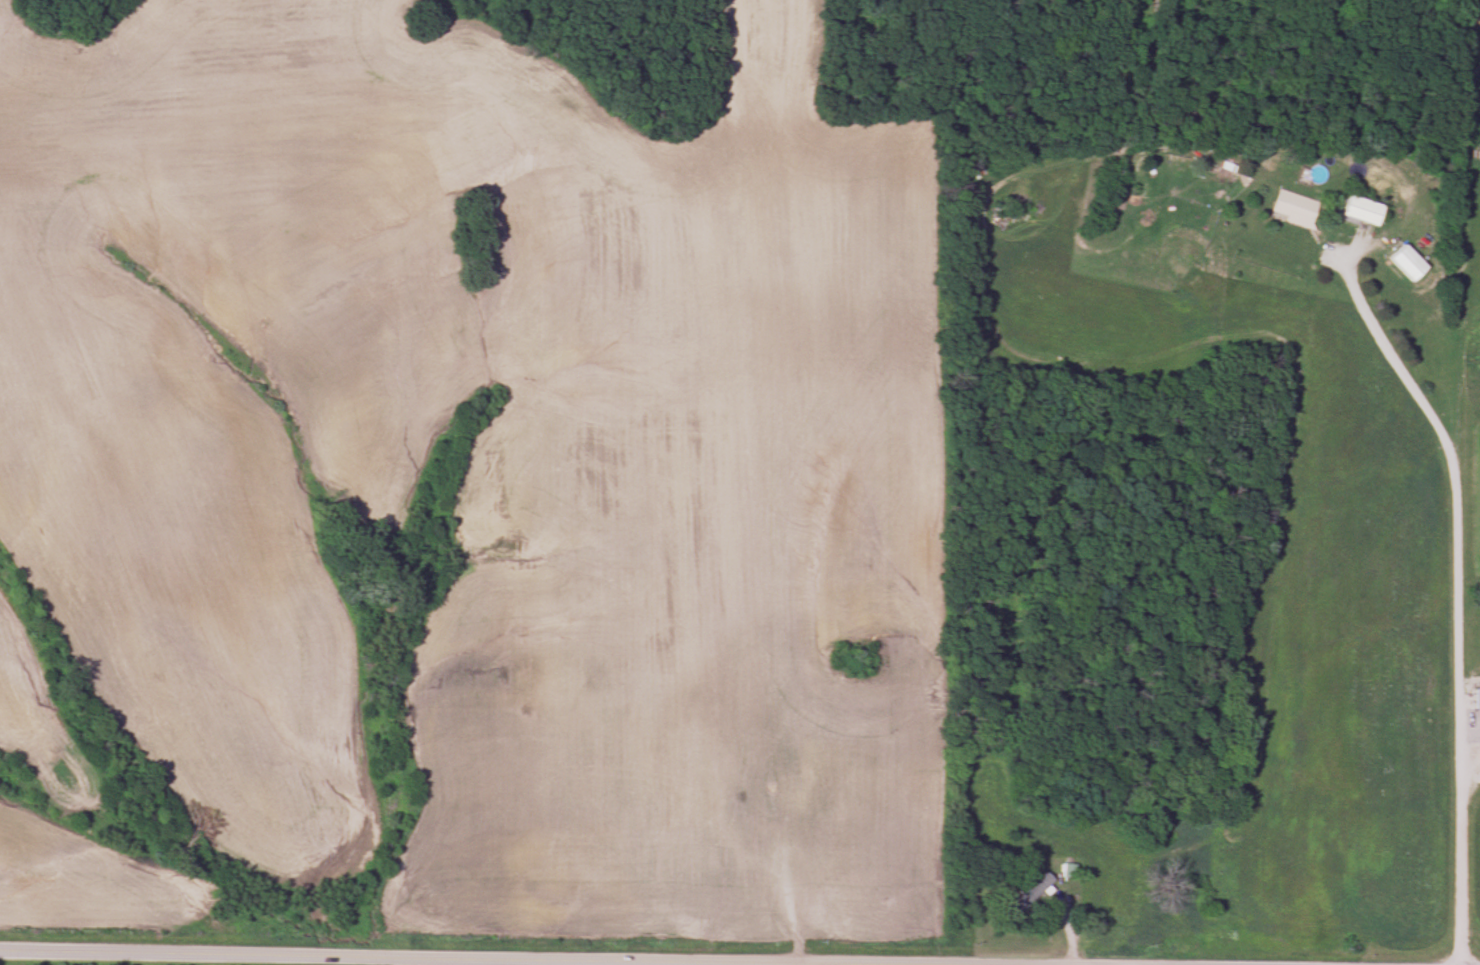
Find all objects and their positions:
building: (1290, 209)
building: (1357, 213)
building: (1402, 265)
road: (1458, 600)
building: (1065, 872)
building: (1028, 895)
road: (399, 956)

